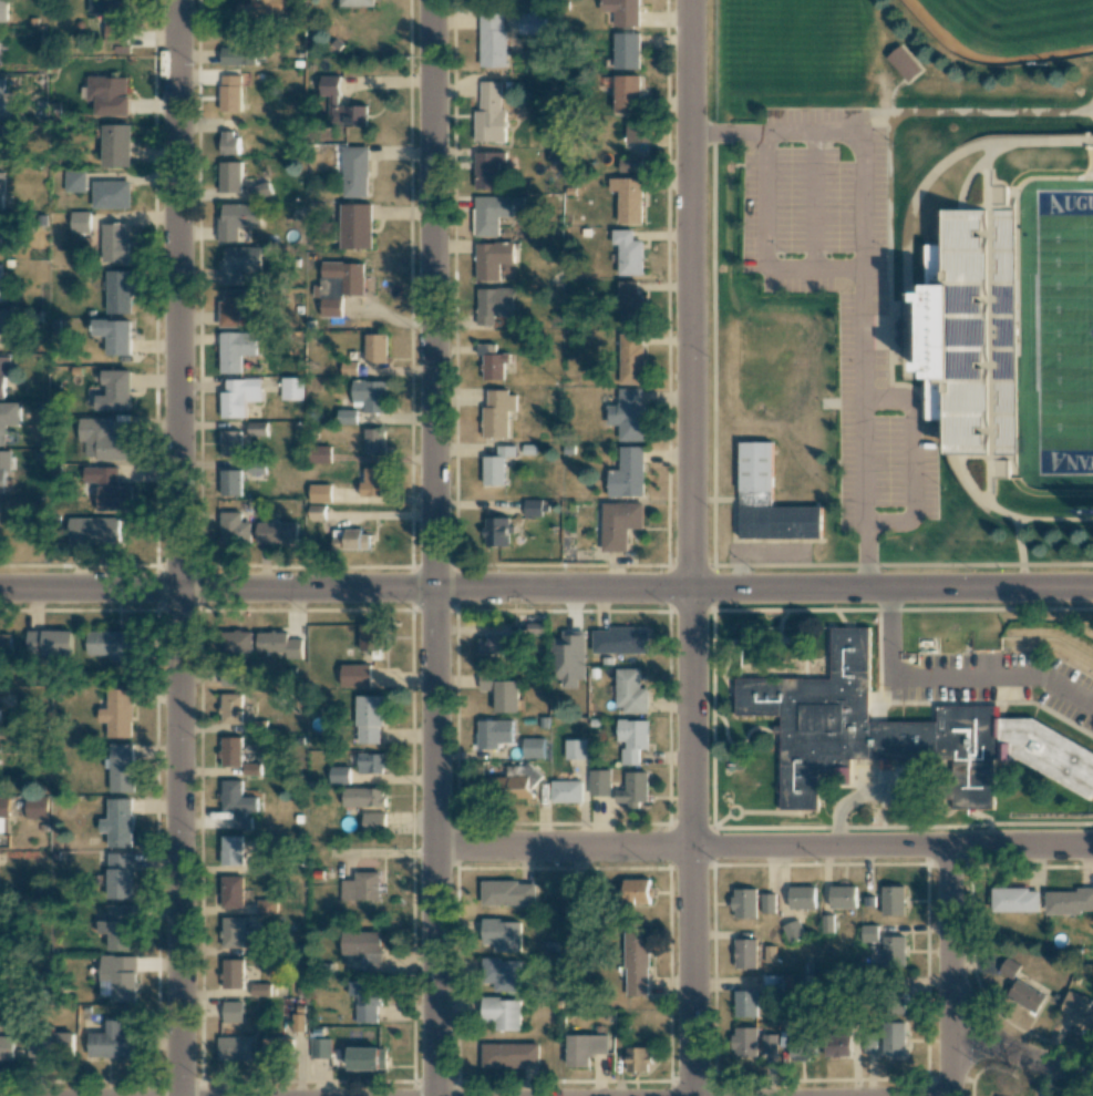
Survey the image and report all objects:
building: (358, 3)
building: (3, 10)
building: (258, 11)
building: (625, 11)
building: (112, 19)
building: (533, 23)
park: (1009, 29)
building: (493, 40)
building: (628, 51)
park: (895, 54)
building: (238, 55)
building: (904, 63)
building: (330, 84)
building: (230, 93)
building: (628, 93)
building: (3, 95)
building: (109, 95)
building: (346, 114)
building: (491, 114)
building: (638, 132)
road: (726, 137)
building: (0, 141)
building: (228, 142)
building: (116, 145)
building: (629, 165)
building: (487, 168)
building: (354, 172)
building: (230, 176)
building: (74, 181)
building: (1, 190)
building: (111, 194)
building: (999, 194)
building: (628, 198)
road: (813, 208)
building: (495, 213)
building: (238, 219)
building: (80, 222)
building: (355, 226)
building: (4, 235)
building: (114, 243)
building: (628, 253)
road: (764, 253)
building: (492, 259)
building: (238, 263)
road: (863, 280)
building: (0, 283)
building: (339, 285)
parking lot: (838, 289)
building: (118, 291)
road: (434, 294)
road: (690, 295)
building: (629, 304)
building: (494, 305)
building: (237, 306)
building: (6, 321)
stadium: (1007, 321)
building: (970, 331)
park: (1062, 331)
building: (114, 335)
building: (375, 348)
building: (235, 349)
building: (632, 358)
building: (491, 360)
building: (3, 373)
building: (291, 389)
building: (115, 391)
building: (370, 395)
building: (235, 399)
building: (497, 413)
building: (628, 414)
building: (9, 418)
building: (256, 428)
building: (102, 440)
building: (374, 440)
building: (230, 443)
building: (320, 454)
road: (916, 462)
building: (496, 465)
building: (3, 468)
building: (256, 468)
building: (1000, 469)
building: (628, 473)
building: (230, 482)
building: (373, 482)
building: (109, 488)
building: (321, 493)
building: (769, 502)
building: (533, 508)
building: (620, 524)
building: (93, 530)
building: (235, 530)
building: (497, 531)
building: (277, 532)
building: (355, 540)
road: (181, 547)
road: (863, 555)
road: (546, 587)
building: (370, 637)
building: (619, 641)
building: (239, 642)
building: (49, 643)
building: (111, 644)
building: (496, 644)
building: (4, 645)
building: (279, 645)
building: (568, 658)
building: (355, 675)
road: (950, 675)
parking lot: (988, 682)
building: (630, 692)
building: (501, 693)
building: (231, 708)
building: (117, 714)
building: (369, 719)
building: (494, 733)
building: (895, 735)
building: (632, 739)
building: (575, 749)
building: (231, 751)
building: (371, 764)
building: (121, 767)
building: (339, 775)
building: (512, 782)
building: (599, 782)
building: (633, 789)
building: (566, 791)
building: (363, 797)
building: (238, 803)
building: (37, 807)
building: (3, 815)
building: (120, 822)
building: (373, 822)
road: (435, 841)
road: (692, 842)
building: (231, 850)
road: (764, 850)
building: (120, 875)
building: (361, 887)
building: (233, 891)
building: (637, 891)
building: (507, 893)
building: (843, 897)
building: (581, 898)
building: (802, 898)
building: (893, 900)
building: (1015, 900)
building: (1069, 901)
building: (744, 903)
building: (767, 903)
building: (266, 906)
building: (117, 926)
building: (793, 931)
building: (231, 932)
building: (869, 933)
building: (502, 934)
building: (360, 942)
building: (894, 951)
building: (745, 953)
building: (636, 966)
building: (1008, 967)
road: (957, 972)
building: (231, 973)
building: (502, 973)
building: (117, 977)
building: (772, 983)
building: (260, 990)
building: (1025, 996)
building: (365, 1000)
building: (745, 1003)
building: (1079, 1010)
building: (231, 1011)
building: (502, 1013)
building: (298, 1022)
building: (894, 1038)
building: (112, 1042)
building: (744, 1043)
building: (49, 1044)
building: (837, 1045)
building: (6, 1047)
building: (319, 1047)
building: (234, 1048)
building: (275, 1048)
building: (584, 1048)
building: (798, 1048)
building: (769, 1049)
road: (1015, 1053)
building: (509, 1055)
building: (367, 1058)
building: (638, 1058)

